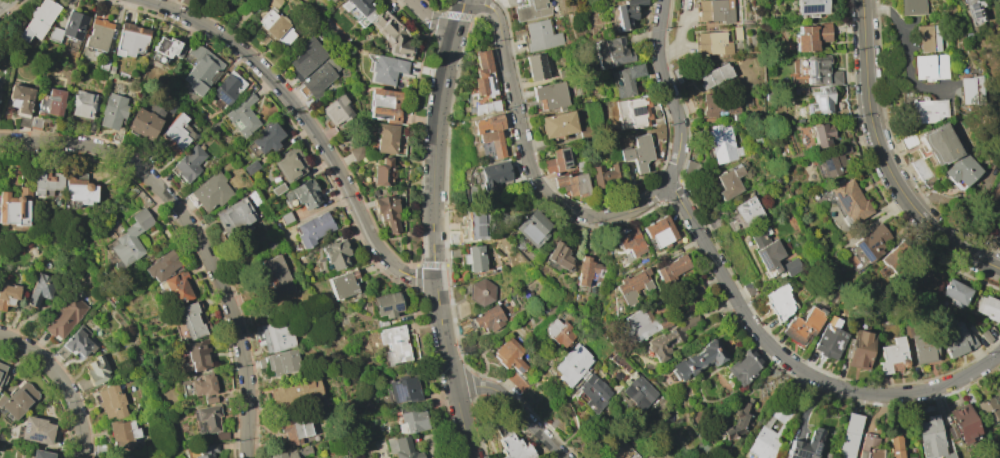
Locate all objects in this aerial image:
building: (330, 0)
building: (332, 0)
road: (2, 1)
building: (275, 3)
road: (435, 5)
rooftop solar panel: (970, 6)
rooftop solar panel: (808, 7)
building: (809, 7)
building: (913, 7)
building: (530, 9)
building: (359, 10)
building: (715, 10)
building: (972, 11)
building: (626, 12)
rooftop solar panel: (972, 13)
road: (446, 14)
building: (38, 20)
road: (430, 20)
road: (431, 21)
building: (70, 27)
building: (277, 27)
building: (736, 32)
building: (392, 34)
building: (98, 36)
building: (540, 36)
building: (811, 36)
building: (927, 38)
building: (130, 39)
building: (711, 43)
building: (165, 50)
building: (610, 53)
road: (905, 54)
rooftop solar panel: (299, 57)
building: (306, 57)
park: (992, 57)
building: (103, 63)
rooftop solar panel: (811, 66)
building: (536, 67)
building: (930, 67)
building: (200, 68)
building: (110, 69)
building: (386, 69)
road: (430, 72)
building: (820, 72)
building: (482, 74)
building: (713, 75)
building: (316, 79)
building: (627, 79)
building: (0, 88)
building: (228, 88)
building: (970, 90)
building: (551, 96)
rooftop solar panel: (222, 98)
building: (824, 100)
building: (20, 102)
building: (51, 102)
rooftop solar panel: (818, 103)
building: (84, 104)
building: (384, 104)
building: (718, 104)
building: (485, 107)
rooftop solar panel: (637, 109)
building: (337, 110)
building: (927, 110)
building: (112, 111)
building: (637, 111)
building: (242, 116)
road: (423, 119)
building: (35, 121)
building: (145, 121)
road: (310, 124)
building: (558, 124)
building: (489, 132)
building: (177, 133)
building: (821, 134)
building: (265, 137)
building: (755, 137)
building: (389, 139)
building: (722, 143)
building: (939, 144)
road: (408, 149)
building: (357, 151)
building: (639, 152)
road: (529, 160)
building: (557, 160)
road: (883, 160)
building: (833, 161)
building: (188, 163)
building: (290, 164)
rooftop solar panel: (825, 164)
building: (581, 166)
building: (250, 167)
building: (691, 167)
building: (920, 169)
building: (961, 169)
building: (383, 173)
building: (605, 174)
building: (492, 175)
building: (47, 182)
building: (728, 182)
building: (572, 184)
building: (79, 188)
building: (278, 188)
building: (209, 192)
building: (304, 194)
building: (994, 195)
rooftop solar panel: (840, 200)
building: (849, 201)
building: (15, 207)
building: (747, 210)
building: (387, 211)
building: (239, 212)
building: (286, 217)
rooftop solar panel: (480, 217)
building: (478, 223)
building: (531, 228)
building: (314, 229)
road: (431, 229)
building: (659, 231)
rooftop solar panel: (481, 232)
road: (194, 236)
building: (130, 240)
building: (630, 241)
building: (867, 244)
rooftop solar panel: (864, 253)
building: (335, 254)
building: (558, 255)
building: (771, 255)
rooftop solar panel: (759, 256)
building: (474, 258)
building: (891, 258)
rooftop solar panel: (764, 261)
road: (413, 265)
road: (425, 265)
building: (161, 266)
building: (671, 268)
building: (276, 270)
building: (589, 271)
road: (417, 277)
building: (343, 284)
building: (632, 286)
building: (177, 287)
building: (40, 290)
building: (481, 291)
building: (955, 293)
road: (733, 294)
building: (8, 295)
building: (780, 301)
building: (387, 304)
rooftop solar panel: (400, 307)
building: (988, 308)
rooftop solar panel: (381, 309)
road: (426, 314)
building: (64, 317)
building: (488, 318)
building: (188, 322)
building: (645, 322)
road: (426, 324)
building: (803, 325)
building: (559, 332)
building: (275, 336)
building: (985, 336)
building: (670, 338)
building: (78, 341)
building: (830, 341)
building: (955, 341)
building: (394, 344)
building: (922, 344)
building: (861, 349)
building: (197, 355)
building: (509, 355)
building: (893, 355)
building: (698, 360)
building: (280, 362)
building: (572, 364)
building: (743, 366)
rooftop solar panel: (520, 368)
building: (2, 373)
building: (93, 373)
road: (425, 373)
road: (438, 375)
building: (516, 381)
road: (62, 382)
building: (998, 384)
building: (204, 386)
building: (997, 389)
building: (404, 390)
building: (295, 392)
building: (593, 392)
building: (638, 392)
road: (443, 396)
building: (18, 399)
building: (210, 400)
building: (110, 402)
road: (516, 409)
building: (986, 409)
building: (209, 417)
building: (741, 419)
building: (412, 421)
building: (960, 424)
rooftop solar panel: (25, 428)
building: (36, 430)
road: (451, 430)
building: (294, 431)
building: (122, 432)
building: (768, 432)
building: (220, 435)
building: (849, 435)
building: (930, 438)
building: (511, 444)
building: (806, 445)
building: (894, 447)
building: (402, 448)
building: (869, 448)
rooftop solar panel: (815, 449)
building: (617, 450)
building: (205, 451)
building: (292, 453)
building: (41, 454)
rooftop solar panel: (804, 456)
building: (125, 457)

